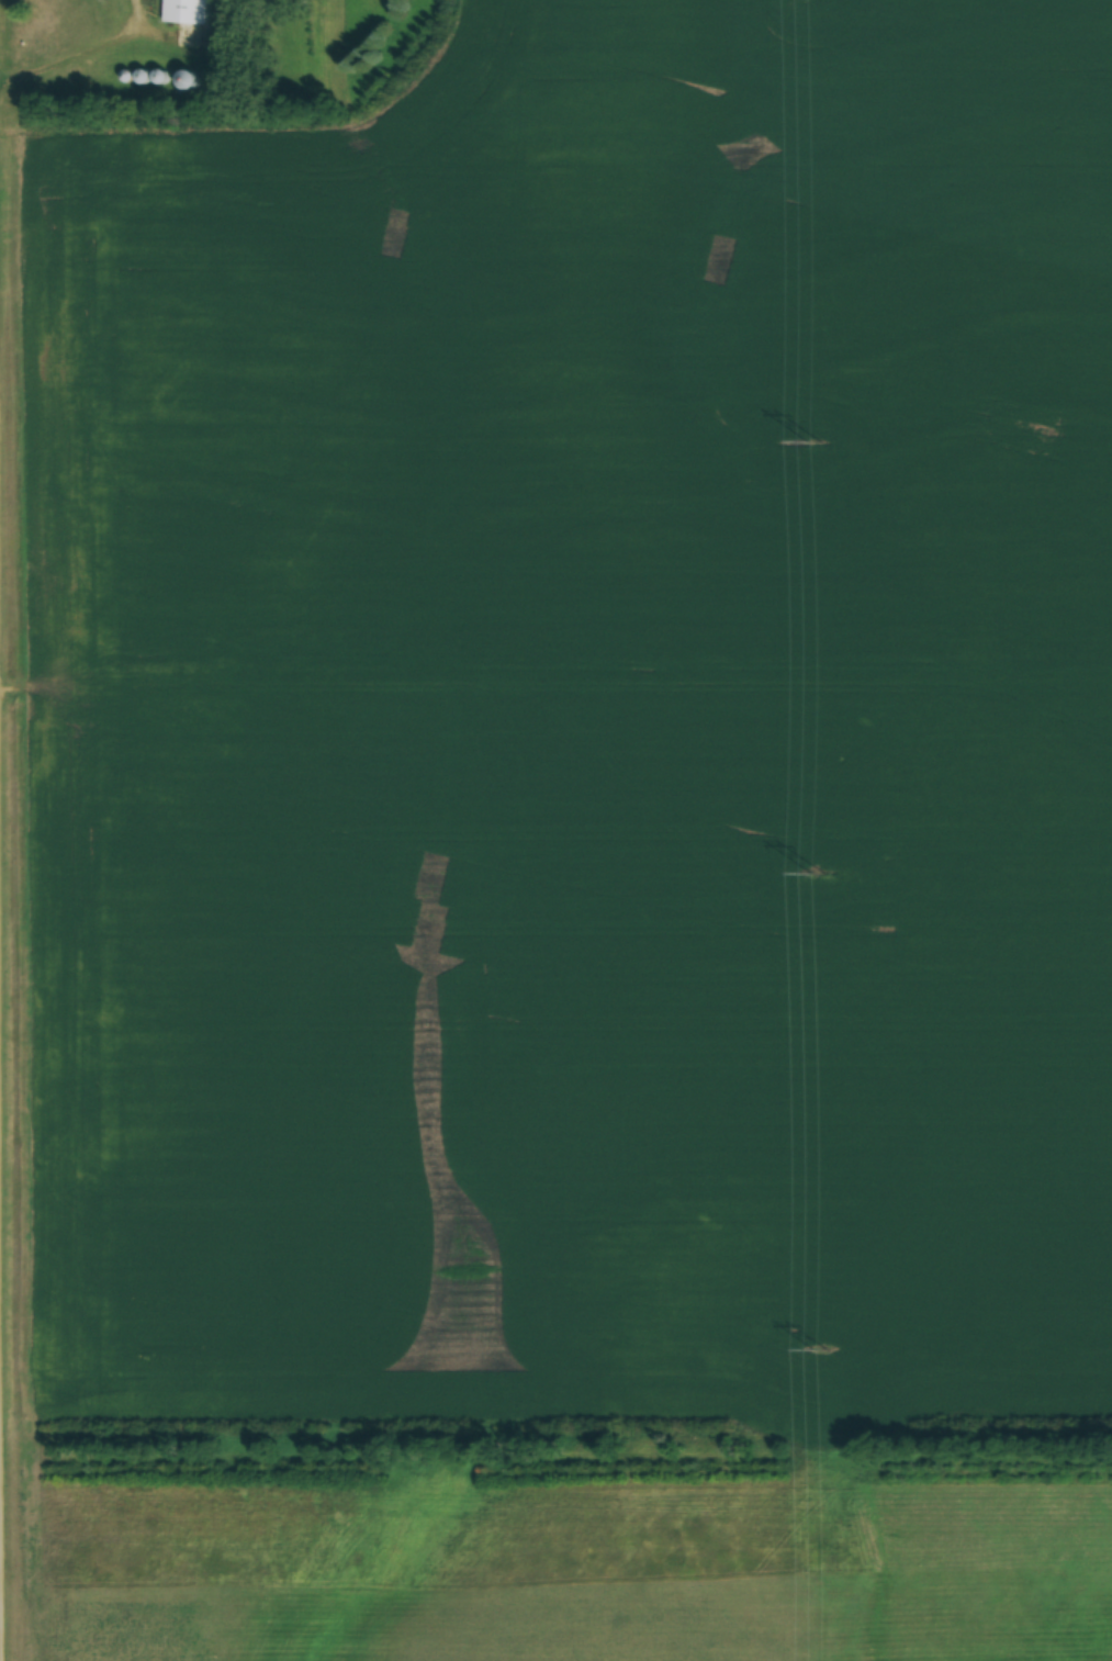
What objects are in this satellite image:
building: (186, 11)
building: (184, 80)
power tower: (813, 445)
power tower: (816, 874)
power tower: (821, 1350)

